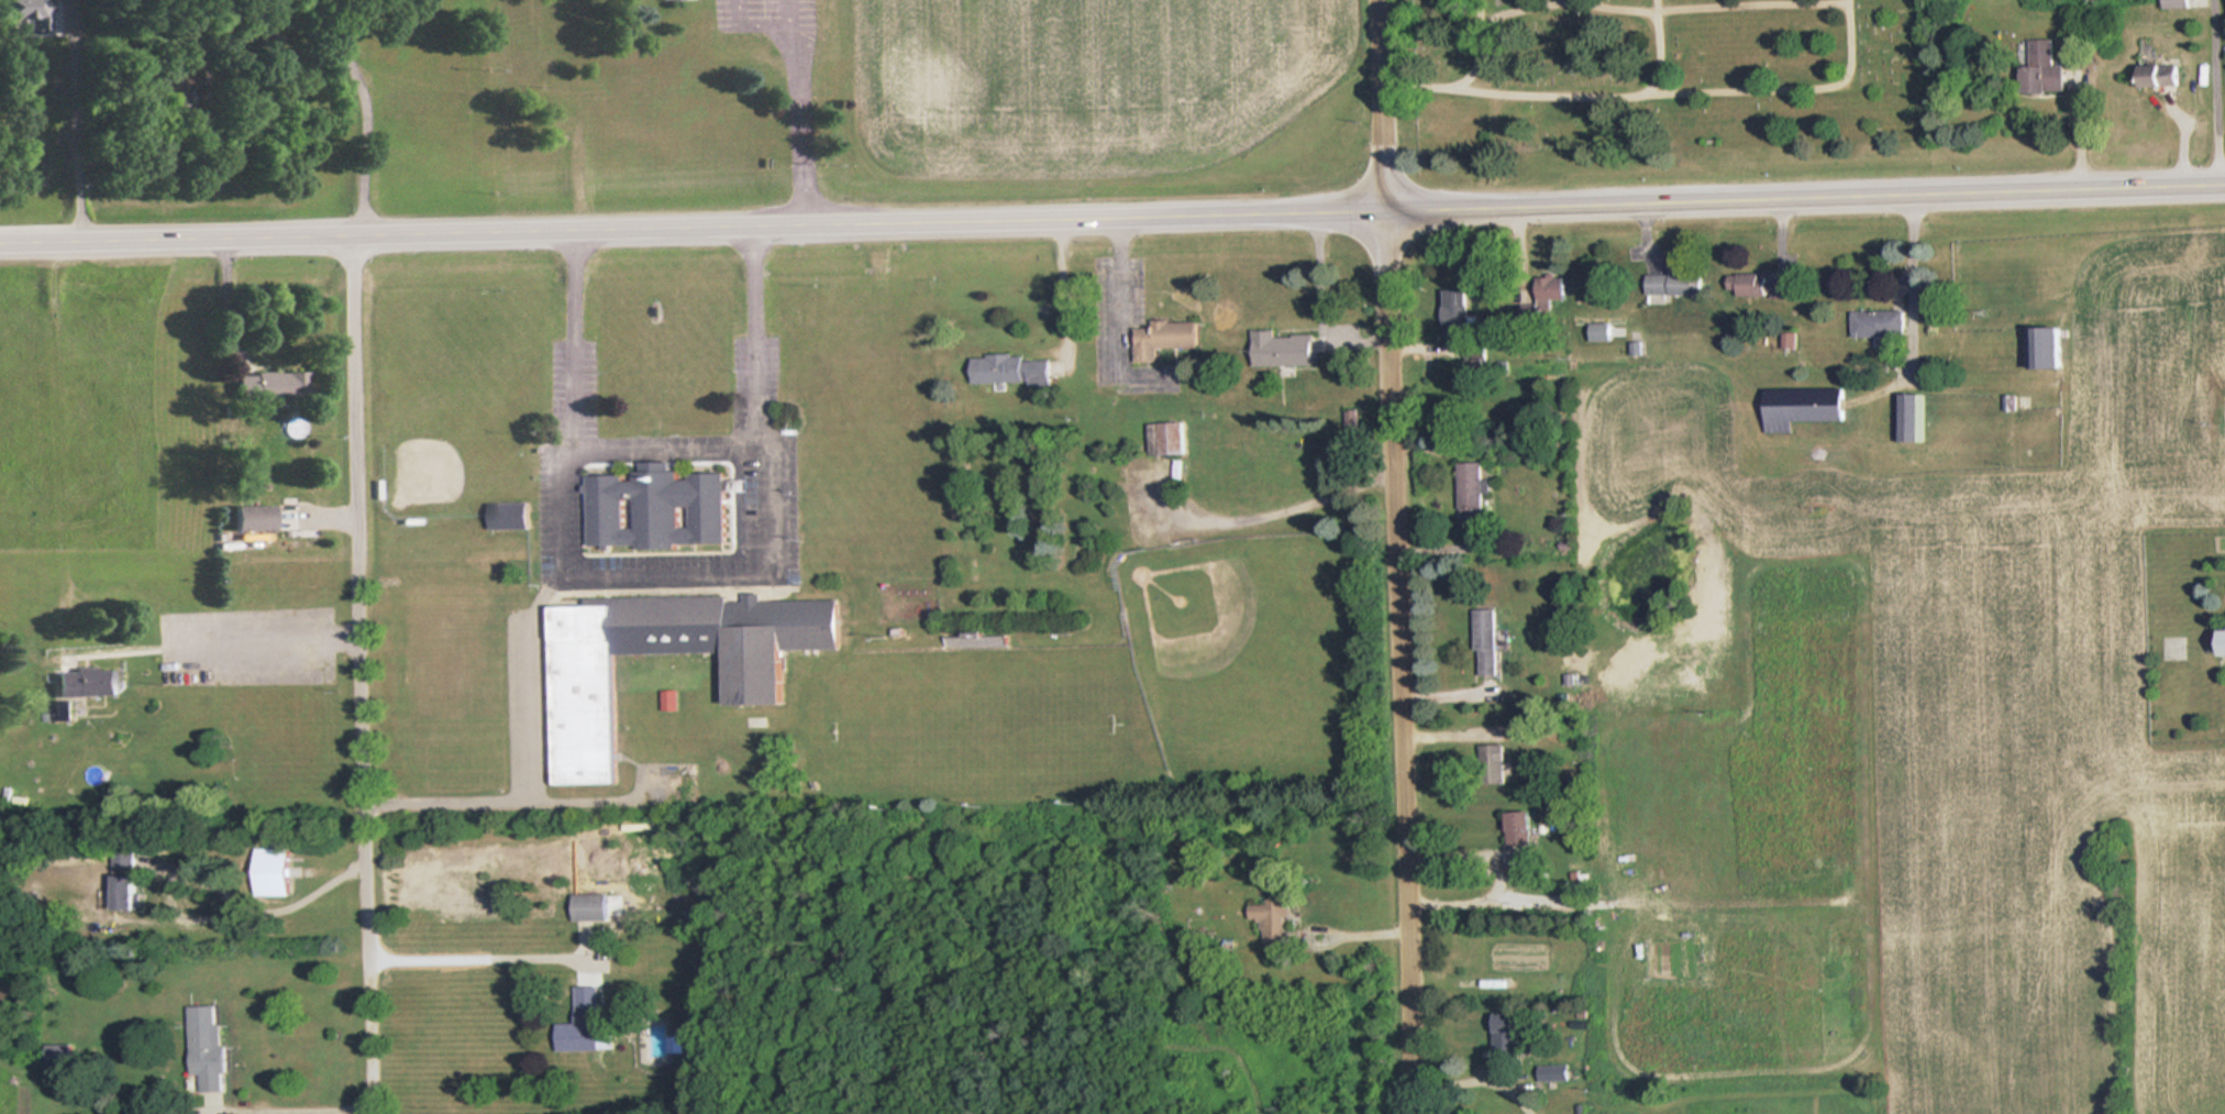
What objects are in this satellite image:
building: (2180, 3)
building: (26, 11)
building: (2048, 68)
building: (184, 74)
park: (1651, 76)
road: (1112, 214)
building: (1676, 283)
building: (1759, 286)
building: (1560, 288)
building: (1458, 301)
building: (1881, 324)
building: (1603, 331)
building: (1174, 341)
building: (2050, 349)
building: (1294, 350)
building: (1022, 372)
building: (272, 386)
building: (1806, 408)
building: (1911, 418)
building: (1169, 439)
building: (1471, 495)
building: (668, 508)
building: (512, 516)
building: (254, 518)
road: (1395, 556)
building: (977, 640)
building: (1488, 642)
park: (1259, 657)
road: (361, 673)
building: (88, 681)
building: (598, 681)
building: (673, 699)
park: (979, 726)
building: (1494, 765)
building: (1520, 829)
building: (275, 872)
building: (129, 879)
building: (593, 905)
building: (1274, 923)
building: (585, 1021)
building: (1507, 1035)
building: (208, 1045)
building: (62, 1054)
building: (1558, 1073)

